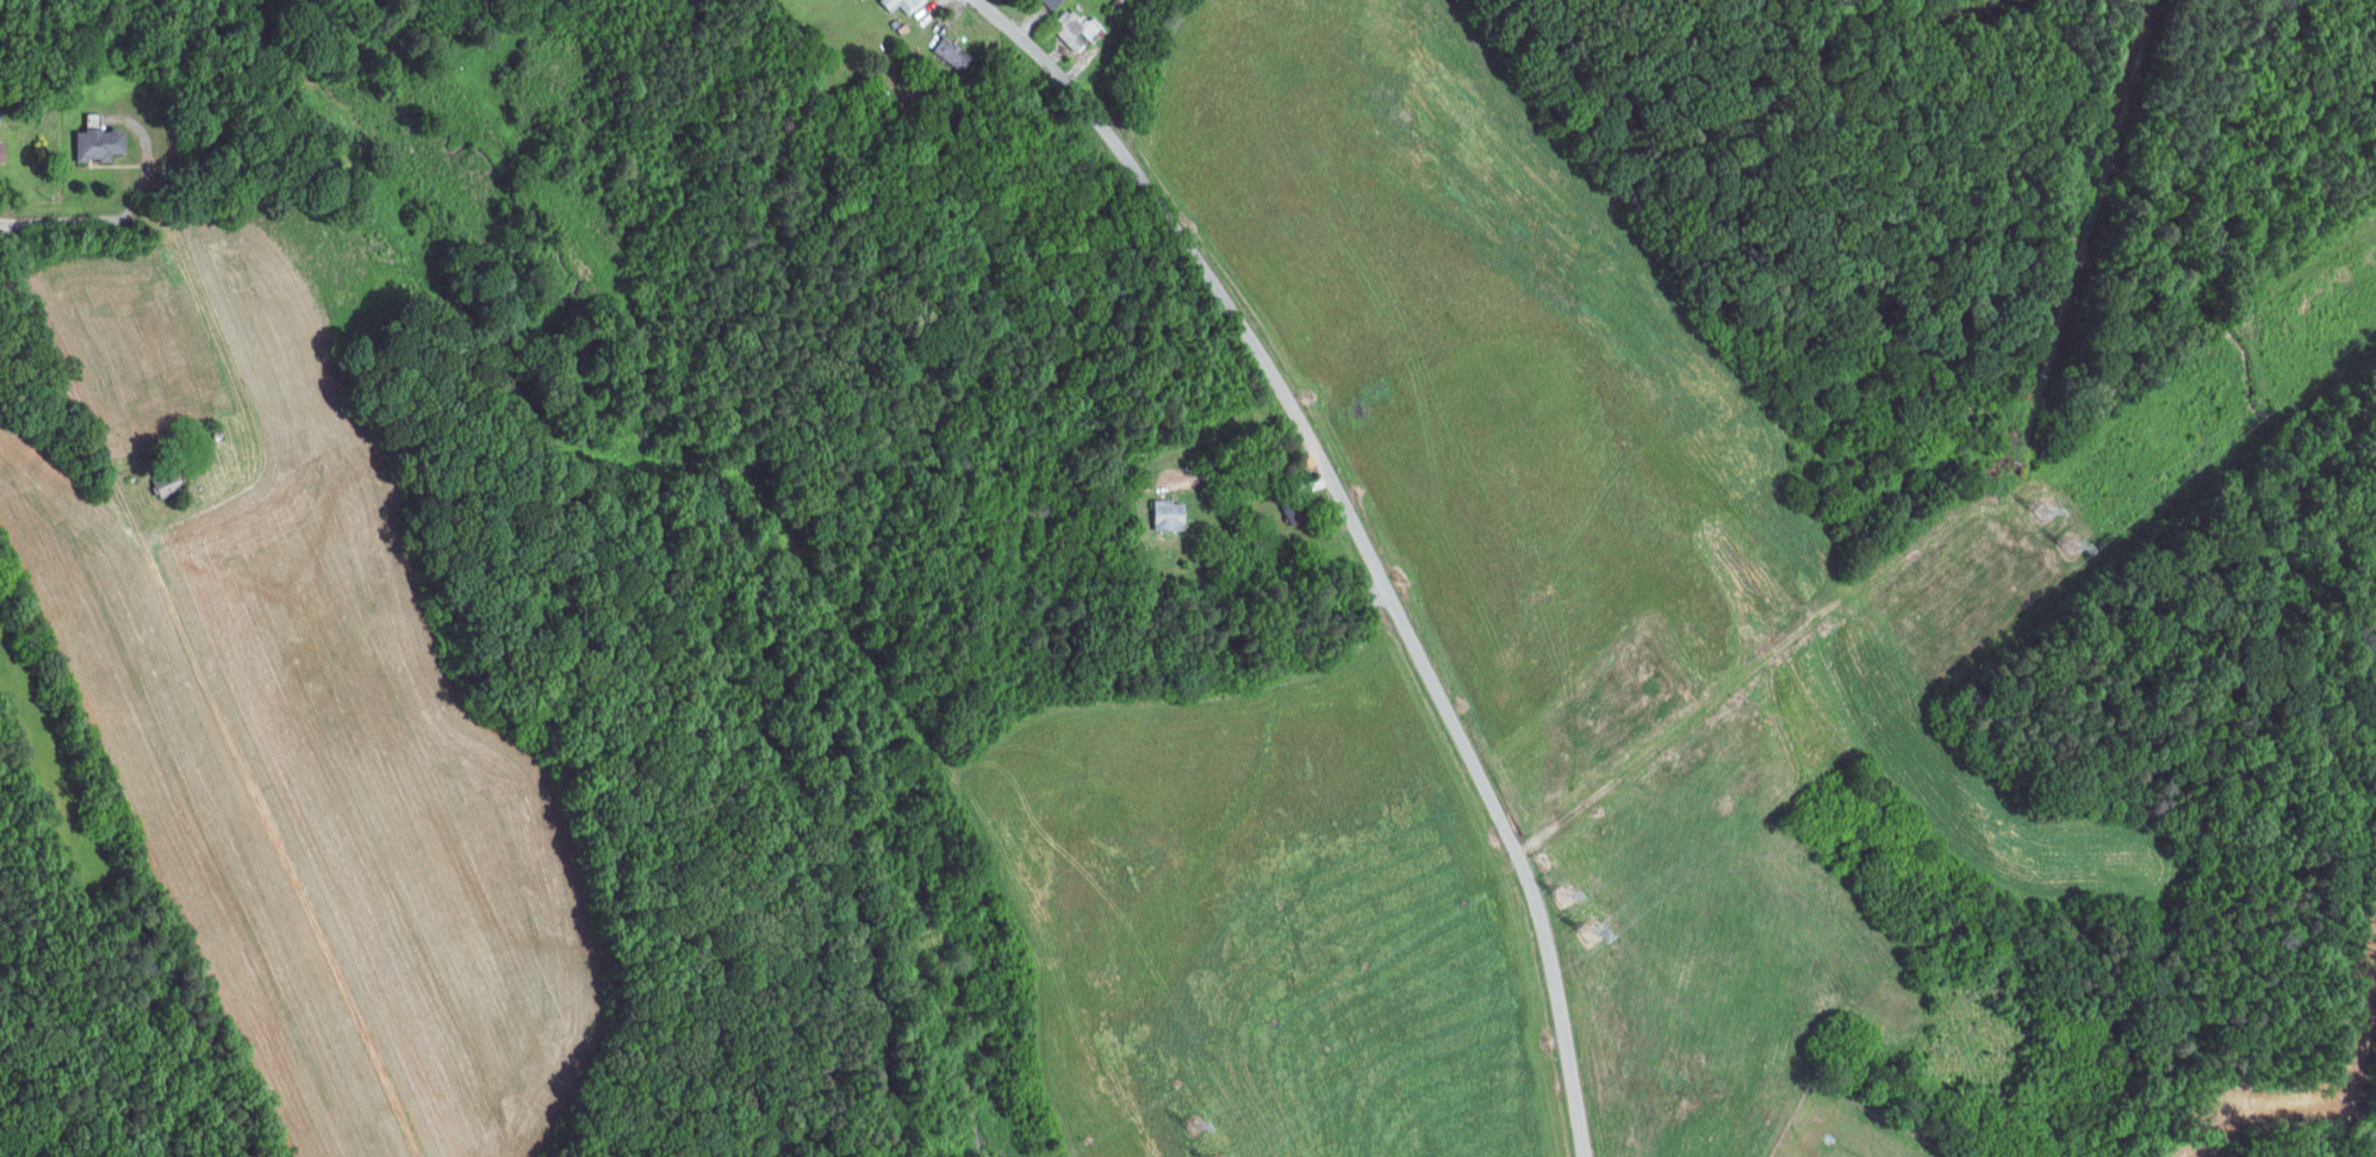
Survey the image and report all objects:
building: (1044, 2)
building: (895, 5)
building: (1071, 27)
building: (945, 52)
building: (101, 143)
building: (4, 151)
road: (83, 224)
road: (231, 440)
road: (1244, 469)
building: (169, 483)
building: (1287, 510)
power tower: (2040, 512)
building: (1161, 516)
road: (1360, 536)
power tower: (2070, 549)
road: (194, 720)
power tower: (1561, 896)
power tower: (1587, 934)
power tower: (1193, 1126)

